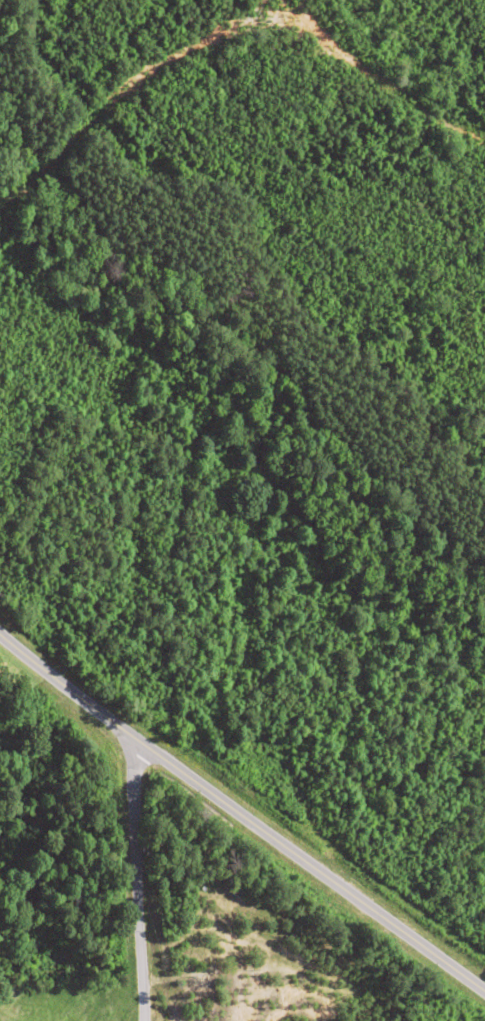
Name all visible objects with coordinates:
road: (240, 817)
road: (143, 886)

